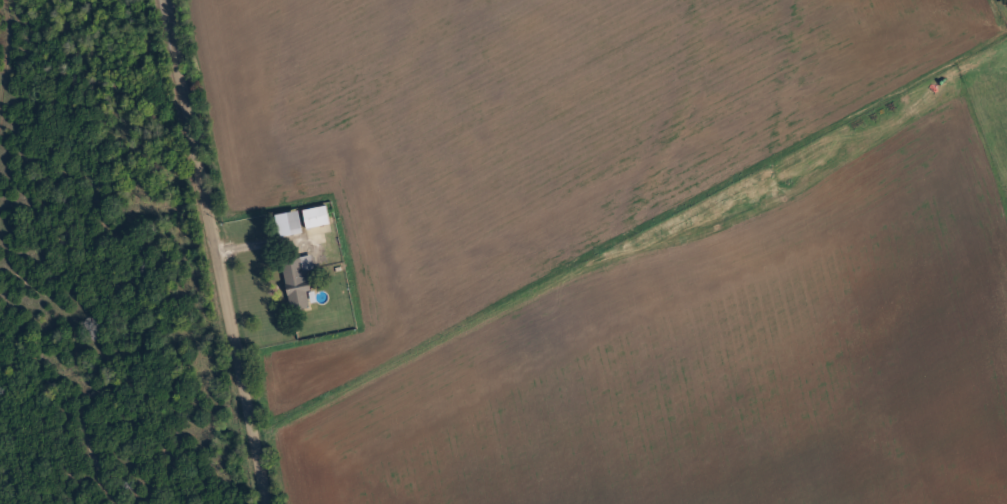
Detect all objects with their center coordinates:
building: (317, 216)
road: (210, 252)
building: (300, 281)

